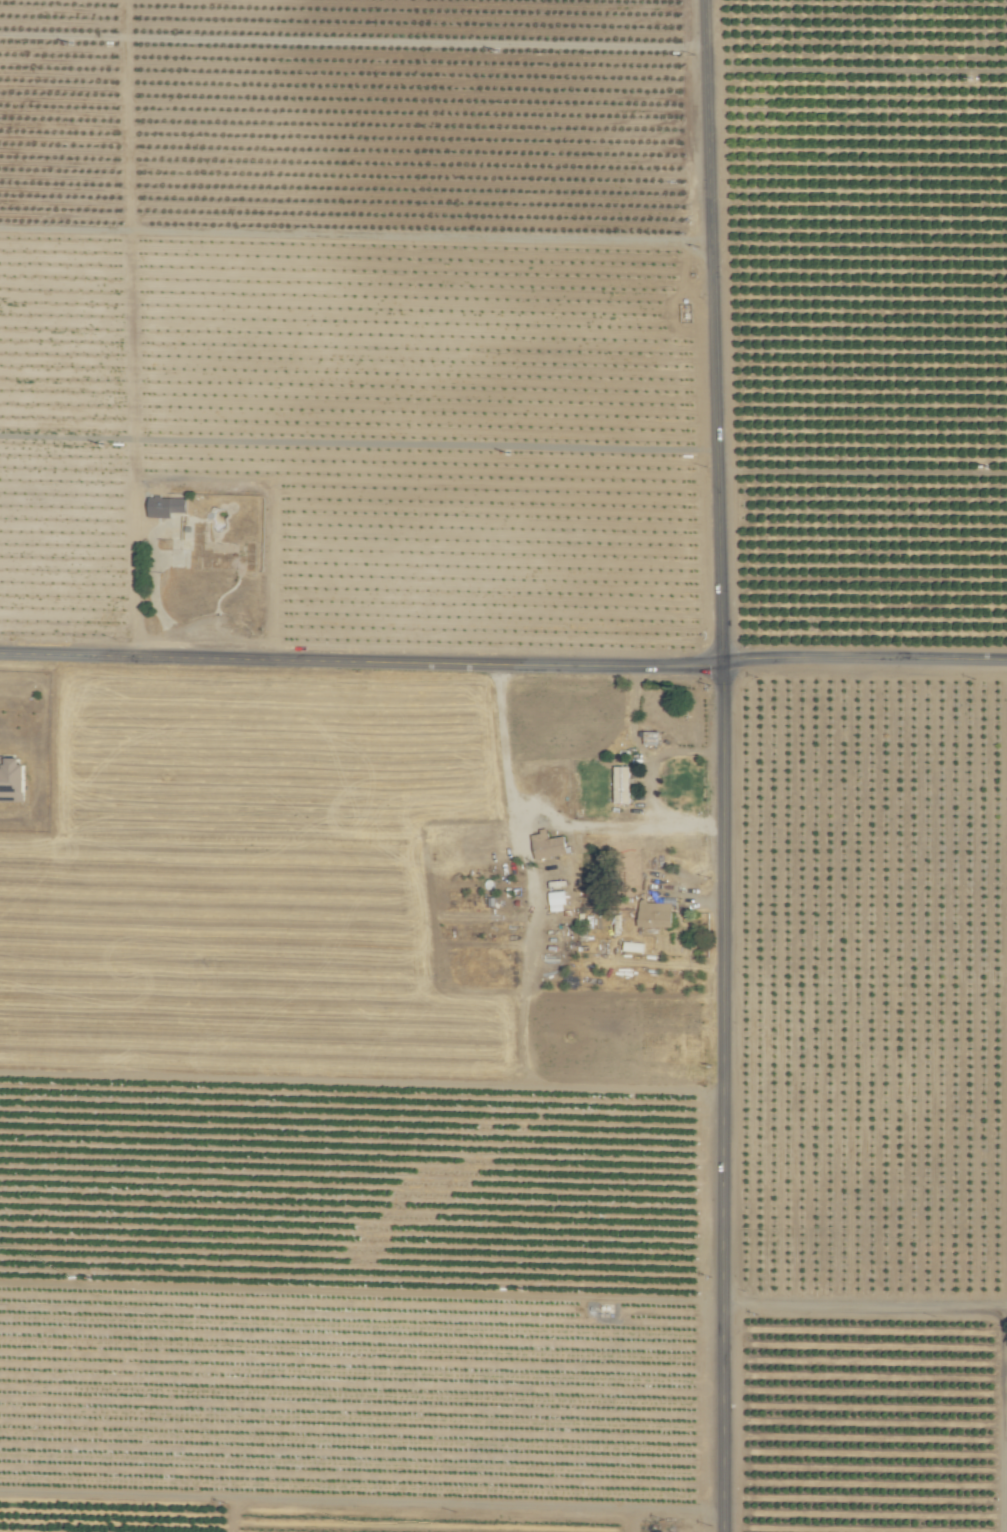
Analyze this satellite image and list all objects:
road: (713, 331)
building: (178, 505)
road: (503, 664)
road: (657, 763)
building: (13, 778)
building: (621, 784)
road: (545, 819)
building: (549, 845)
crop: (874, 872)
building: (558, 897)
building: (655, 912)
road: (520, 1040)
road: (718, 1097)
road: (882, 1303)

